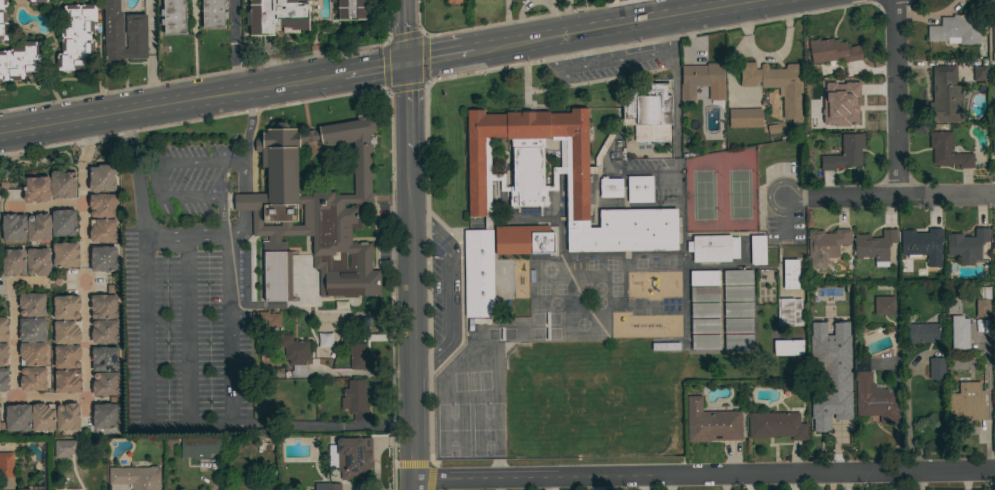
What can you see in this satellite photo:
building: (36, 1)
building: (453, 2)
building: (351, 9)
building: (213, 14)
building: (277, 16)
building: (173, 17)
building: (3, 21)
building: (136, 25)
road: (622, 26)
building: (955, 29)
building: (993, 35)
building: (77, 37)
road: (234, 46)
road: (151, 52)
building: (833, 52)
road: (440, 58)
building: (21, 62)
road: (611, 62)
traffic signals: (409, 64)
building: (980, 74)
building: (700, 79)
building: (779, 86)
road: (269, 87)
building: (945, 95)
road: (895, 98)
building: (848, 103)
building: (648, 110)
building: (745, 118)
road: (64, 121)
building: (814, 124)
building: (776, 128)
road: (88, 138)
road: (248, 142)
building: (608, 144)
building: (993, 147)
building: (947, 151)
building: (845, 153)
building: (102, 178)
building: (528, 184)
building: (62, 185)
road: (155, 185)
building: (610, 187)
building: (36, 189)
building: (640, 189)
road: (410, 190)
park: (721, 192)
road: (890, 197)
road: (243, 202)
building: (102, 205)
building: (318, 205)
road: (786, 220)
road: (142, 222)
road: (241, 222)
building: (63, 223)
building: (13, 227)
building: (38, 227)
building: (102, 230)
building: (521, 240)
building: (827, 244)
building: (922, 245)
building: (875, 246)
building: (967, 246)
building: (713, 248)
building: (993, 249)
building: (758, 250)
building: (65, 254)
building: (103, 259)
building: (25, 262)
building: (790, 274)
building: (478, 275)
building: (277, 276)
building: (737, 277)
building: (704, 278)
building: (704, 294)
building: (738, 294)
road: (453, 295)
building: (983, 300)
building: (826, 303)
building: (32, 305)
building: (104, 306)
building: (884, 306)
building: (66, 307)
building: (738, 309)
building: (705, 310)
building: (789, 311)
building: (270, 319)
road: (85, 322)
building: (957, 323)
building: (705, 326)
building: (738, 326)
building: (4, 329)
building: (32, 329)
building: (104, 331)
building: (66, 332)
road: (227, 332)
building: (921, 333)
road: (13, 337)
building: (349, 338)
building: (324, 341)
building: (738, 341)
building: (705, 342)
building: (665, 346)
building: (787, 347)
building: (832, 351)
building: (295, 353)
building: (3, 354)
building: (32, 354)
building: (67, 356)
building: (359, 357)
building: (104, 359)
building: (936, 368)
road: (363, 372)
building: (4, 379)
building: (33, 379)
building: (68, 381)
building: (106, 384)
building: (355, 399)
park: (593, 400)
building: (874, 400)
road: (988, 400)
building: (968, 402)
road: (413, 404)
building: (827, 409)
building: (105, 416)
building: (55, 417)
building: (16, 418)
building: (711, 423)
road: (209, 426)
road: (322, 426)
building: (776, 426)
road: (166, 427)
building: (200, 447)
building: (65, 448)
road: (414, 454)
building: (351, 457)
building: (6, 465)
road: (704, 475)
building: (136, 477)
road: (215, 478)
road: (414, 485)
building: (327, 486)
building: (27, 489)

